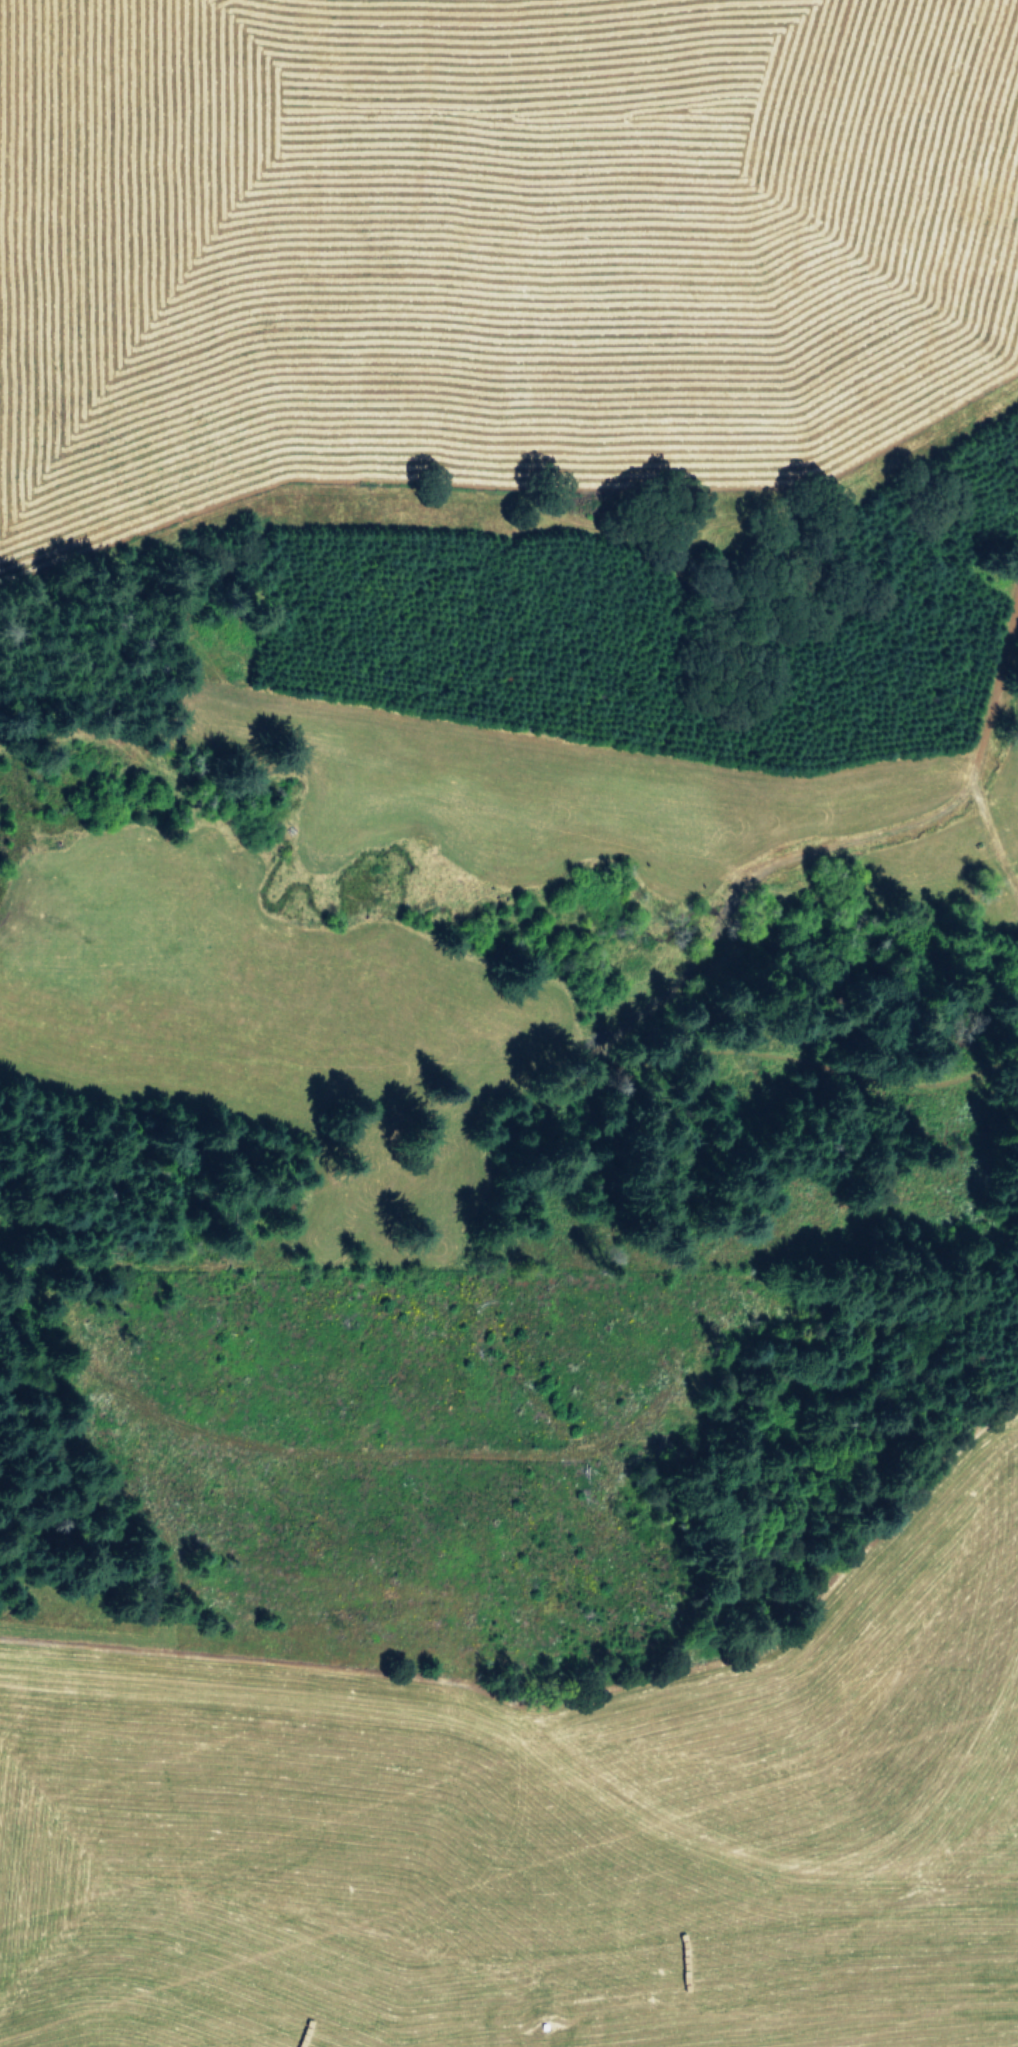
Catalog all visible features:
crop: (481, 266)
road: (976, 750)
road: (658, 865)

